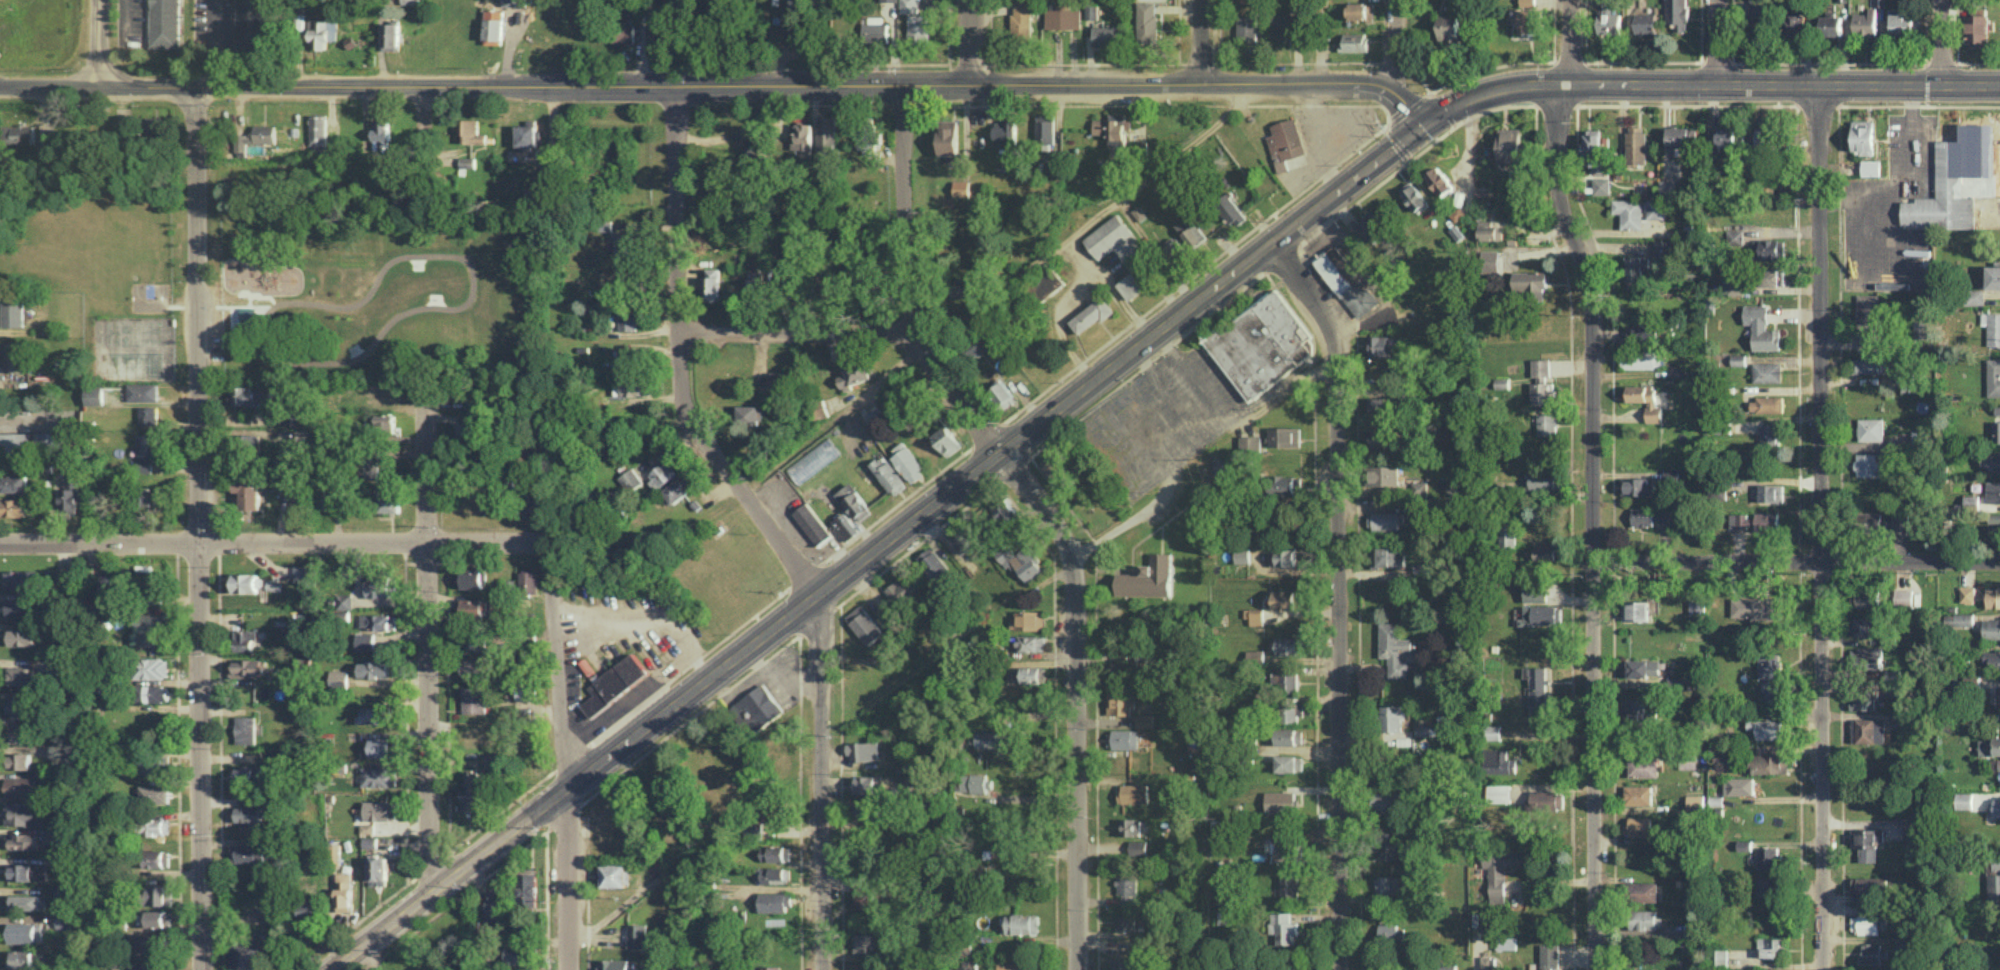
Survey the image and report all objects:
building: (410, 1)
building: (154, 2)
building: (513, 2)
building: (1528, 2)
building: (1880, 3)
building: (908, 6)
building: (1758, 8)
road: (123, 13)
building: (1677, 14)
building: (793, 17)
building: (1064, 18)
building: (1022, 19)
building: (1528, 20)
building: (1608, 20)
building: (1865, 22)
building: (1904, 22)
building: (1645, 23)
building: (1795, 24)
building: (1285, 25)
building: (1832, 25)
building: (918, 26)
building: (1448, 27)
building: (494, 28)
building: (874, 28)
building: (1248, 29)
building: (250, 30)
building: (1977, 30)
building: (323, 33)
building: (623, 33)
building: (1107, 35)
road: (101, 42)
road: (218, 42)
road: (971, 42)
road: (1199, 42)
road: (1568, 42)
road: (1716, 42)
road: (1938, 43)
road: (1394, 45)
road: (722, 86)
road: (789, 103)
road: (902, 103)
road: (1386, 125)
building: (1112, 126)
building: (1046, 128)
building: (1005, 132)
building: (19, 133)
building: (804, 136)
building: (1681, 136)
building: (1863, 136)
building: (948, 137)
building: (1723, 137)
building: (1764, 138)
building: (1117, 142)
building: (1287, 144)
building: (1636, 144)
building: (1509, 145)
building: (1593, 147)
road: (423, 150)
building: (1870, 167)
building: (1054, 171)
building: (1439, 180)
building: (1667, 184)
road: (1913, 184)
building: (1601, 185)
building: (1955, 187)
building: (961, 188)
building: (1413, 195)
building: (1656, 208)
building: (1231, 210)
building: (1629, 212)
building: (606, 225)
building: (1373, 229)
building: (1191, 230)
building: (1488, 230)
building: (1735, 238)
building: (1663, 248)
building: (1772, 248)
building: (1495, 261)
building: (1637, 267)
building: (1993, 275)
building: (1771, 277)
park: (342, 279)
building: (753, 282)
building: (1530, 282)
park: (275, 284)
building: (711, 284)
building: (827, 284)
building: (1347, 284)
building: (1047, 285)
building: (1733, 286)
building: (961, 287)
park: (148, 295)
building: (1973, 296)
building: (13, 311)
building: (1093, 313)
building: (1867, 321)
building: (1761, 327)
building: (1993, 328)
building: (1645, 329)
building: (1920, 329)
park: (132, 331)
road: (798, 333)
building: (1262, 344)
building: (1380, 345)
building: (973, 348)
building: (13, 356)
building: (626, 357)
building: (1738, 358)
building: (1641, 359)
park: (133, 363)
building: (1864, 365)
building: (1540, 367)
road: (1109, 368)
building: (1767, 371)
building: (856, 372)
building: (1993, 377)
building: (778, 379)
building: (1904, 383)
building: (618, 386)
building: (635, 386)
building: (151, 391)
building: (1542, 392)
building: (384, 393)
building: (1003, 394)
building: (95, 395)
building: (244, 396)
building: (1646, 400)
building: (470, 403)
building: (1380, 404)
building: (1766, 404)
building: (818, 409)
building: (1997, 409)
building: (149, 414)
building: (749, 414)
road: (33, 418)
building: (1547, 423)
building: (381, 424)
building: (1722, 428)
building: (467, 429)
building: (1870, 429)
building: (1996, 431)
building: (941, 432)
road: (986, 433)
building: (1769, 435)
building: (1917, 438)
building: (1381, 439)
building: (33, 442)
building: (148, 444)
building: (1990, 461)
building: (909, 464)
building: (146, 465)
building: (1868, 465)
building: (370, 466)
building: (889, 475)
building: (1385, 475)
building: (630, 481)
building: (1545, 481)
building: (13, 483)
building: (1286, 484)
building: (1638, 486)
building: (1419, 488)
building: (676, 490)
building: (1717, 490)
building: (70, 492)
building: (1993, 492)
building: (1770, 493)
building: (249, 494)
building: (151, 495)
building: (328, 495)
building: (389, 498)
building: (853, 501)
building: (1971, 501)
building: (532, 502)
road: (896, 504)
building: (14, 507)
road: (1045, 509)
building: (1004, 510)
building: (1662, 514)
building: (1642, 516)
building: (1385, 520)
building: (1756, 520)
building: (1872, 521)
building: (1899, 521)
building: (1994, 522)
building: (813, 523)
road: (1594, 523)
road: (765, 524)
road: (1123, 524)
building: (846, 526)
road: (199, 527)
road: (1820, 527)
building: (1507, 534)
building: (963, 538)
road: (271, 542)
building: (1546, 550)
building: (1242, 554)
building: (1387, 556)
building: (1283, 557)
building: (1020, 561)
road: (1797, 562)
building: (934, 565)
building: (1422, 567)
road: (805, 574)
building: (64, 575)
building: (302, 575)
building: (470, 578)
building: (1148, 578)
building: (21, 579)
building: (243, 582)
building: (528, 582)
building: (103, 584)
building: (382, 586)
building: (904, 590)
building: (1535, 591)
building: (1967, 593)
road: (1339, 595)
building: (1865, 597)
building: (1903, 597)
building: (1993, 597)
building: (1286, 599)
building: (344, 601)
building: (470, 605)
building: (1654, 605)
building: (18, 607)
building: (1758, 608)
building: (1635, 610)
building: (1540, 614)
building: (1255, 615)
building: (1028, 619)
building: (1959, 619)
building: (378, 621)
building: (864, 624)
building: (1864, 626)
building: (1991, 628)
building: (148, 630)
building: (21, 637)
building: (244, 639)
building: (365, 641)
road: (430, 641)
building: (474, 641)
building: (1029, 643)
building: (1287, 645)
building: (1398, 650)
building: (1963, 652)
building: (1255, 656)
building: (1145, 657)
building: (1866, 657)
building: (304, 663)
road: (689, 665)
building: (474, 666)
building: (154, 667)
building: (248, 668)
building: (1644, 668)
building: (375, 669)
building: (1119, 671)
building: (1029, 674)
building: (1893, 674)
building: (1771, 675)
building: (25, 676)
building: (340, 678)
building: (1972, 679)
building: (1284, 681)
building: (615, 683)
building: (525, 689)
building: (1537, 690)
building: (152, 693)
building: (1999, 696)
building: (475, 699)
building: (1863, 699)
building: (1118, 700)
building: (20, 702)
building: (528, 708)
building: (757, 708)
building: (1641, 709)
building: (1290, 711)
building: (372, 714)
building: (1898, 717)
building: (1392, 718)
building: (1144, 720)
building: (1770, 728)
building: (246, 729)
building: (1423, 730)
building: (1871, 730)
building: (18, 731)
building: (1493, 732)
building: (1290, 736)
building: (1122, 738)
building: (988, 739)
building: (380, 746)
building: (864, 750)
building: (1991, 750)
building: (1268, 753)
road: (570, 755)
road: (565, 757)
building: (20, 760)
building: (153, 760)
building: (1499, 761)
building: (492, 762)
building: (1290, 763)
building: (1770, 763)
building: (1644, 767)
building: (251, 775)
building: (379, 776)
building: (973, 782)
building: (866, 784)
building: (1739, 785)
building: (21, 786)
building: (471, 791)
building: (1134, 793)
building: (1498, 793)
building: (154, 794)
building: (1639, 794)
building: (1548, 799)
building: (1716, 800)
building: (1282, 801)
building: (1391, 802)
building: (1695, 802)
building: (1979, 803)
road: (501, 809)
building: (380, 810)
building: (866, 811)
building: (23, 813)
building: (773, 813)
building: (249, 815)
building: (1640, 825)
building: (157, 826)
building: (1129, 827)
building: (1913, 832)
building: (23, 840)
building: (370, 842)
building: (1867, 842)
building: (1744, 845)
building: (1391, 846)
building: (1138, 848)
building: (334, 852)
building: (777, 852)
building: (1284, 852)
building: (248, 853)
building: (1769, 857)
building: (157, 858)
road: (432, 863)
building: (1995, 864)
building: (378, 870)
building: (1501, 870)
building: (27, 872)
building: (773, 874)
building: (615, 875)
building: (1387, 884)
building: (1868, 885)
building: (1290, 886)
building: (1767, 887)
building: (1994, 887)
building: (1128, 888)
building: (527, 889)
building: (344, 891)
building: (1645, 891)
building: (160, 894)
building: (864, 899)
building: (25, 901)
building: (775, 902)
building: (496, 905)
building: (310, 913)
building: (1225, 917)
building: (158, 918)
building: (1646, 919)
building: (1125, 920)
road: (354, 923)
building: (1023, 923)
building: (1865, 924)
building: (1283, 926)
building: (1388, 930)
building: (23, 932)
building: (637, 935)
building: (1511, 941)
building: (149, 942)
building: (868, 943)
building: (1905, 944)
building: (1774, 947)
building: (518, 953)
building: (1872, 953)
building: (1550, 954)
building: (249, 956)
building: (1720, 956)
building: (21, 959)
building: (1010, 963)
building: (1489, 963)
building: (615, 964)
building: (1123, 964)
building: (969, 965)
building: (151, 966)
building: (771, 967)
building: (1437, 967)
building: (523, 969)
building: (875, 969)
building: (1289, 969)

